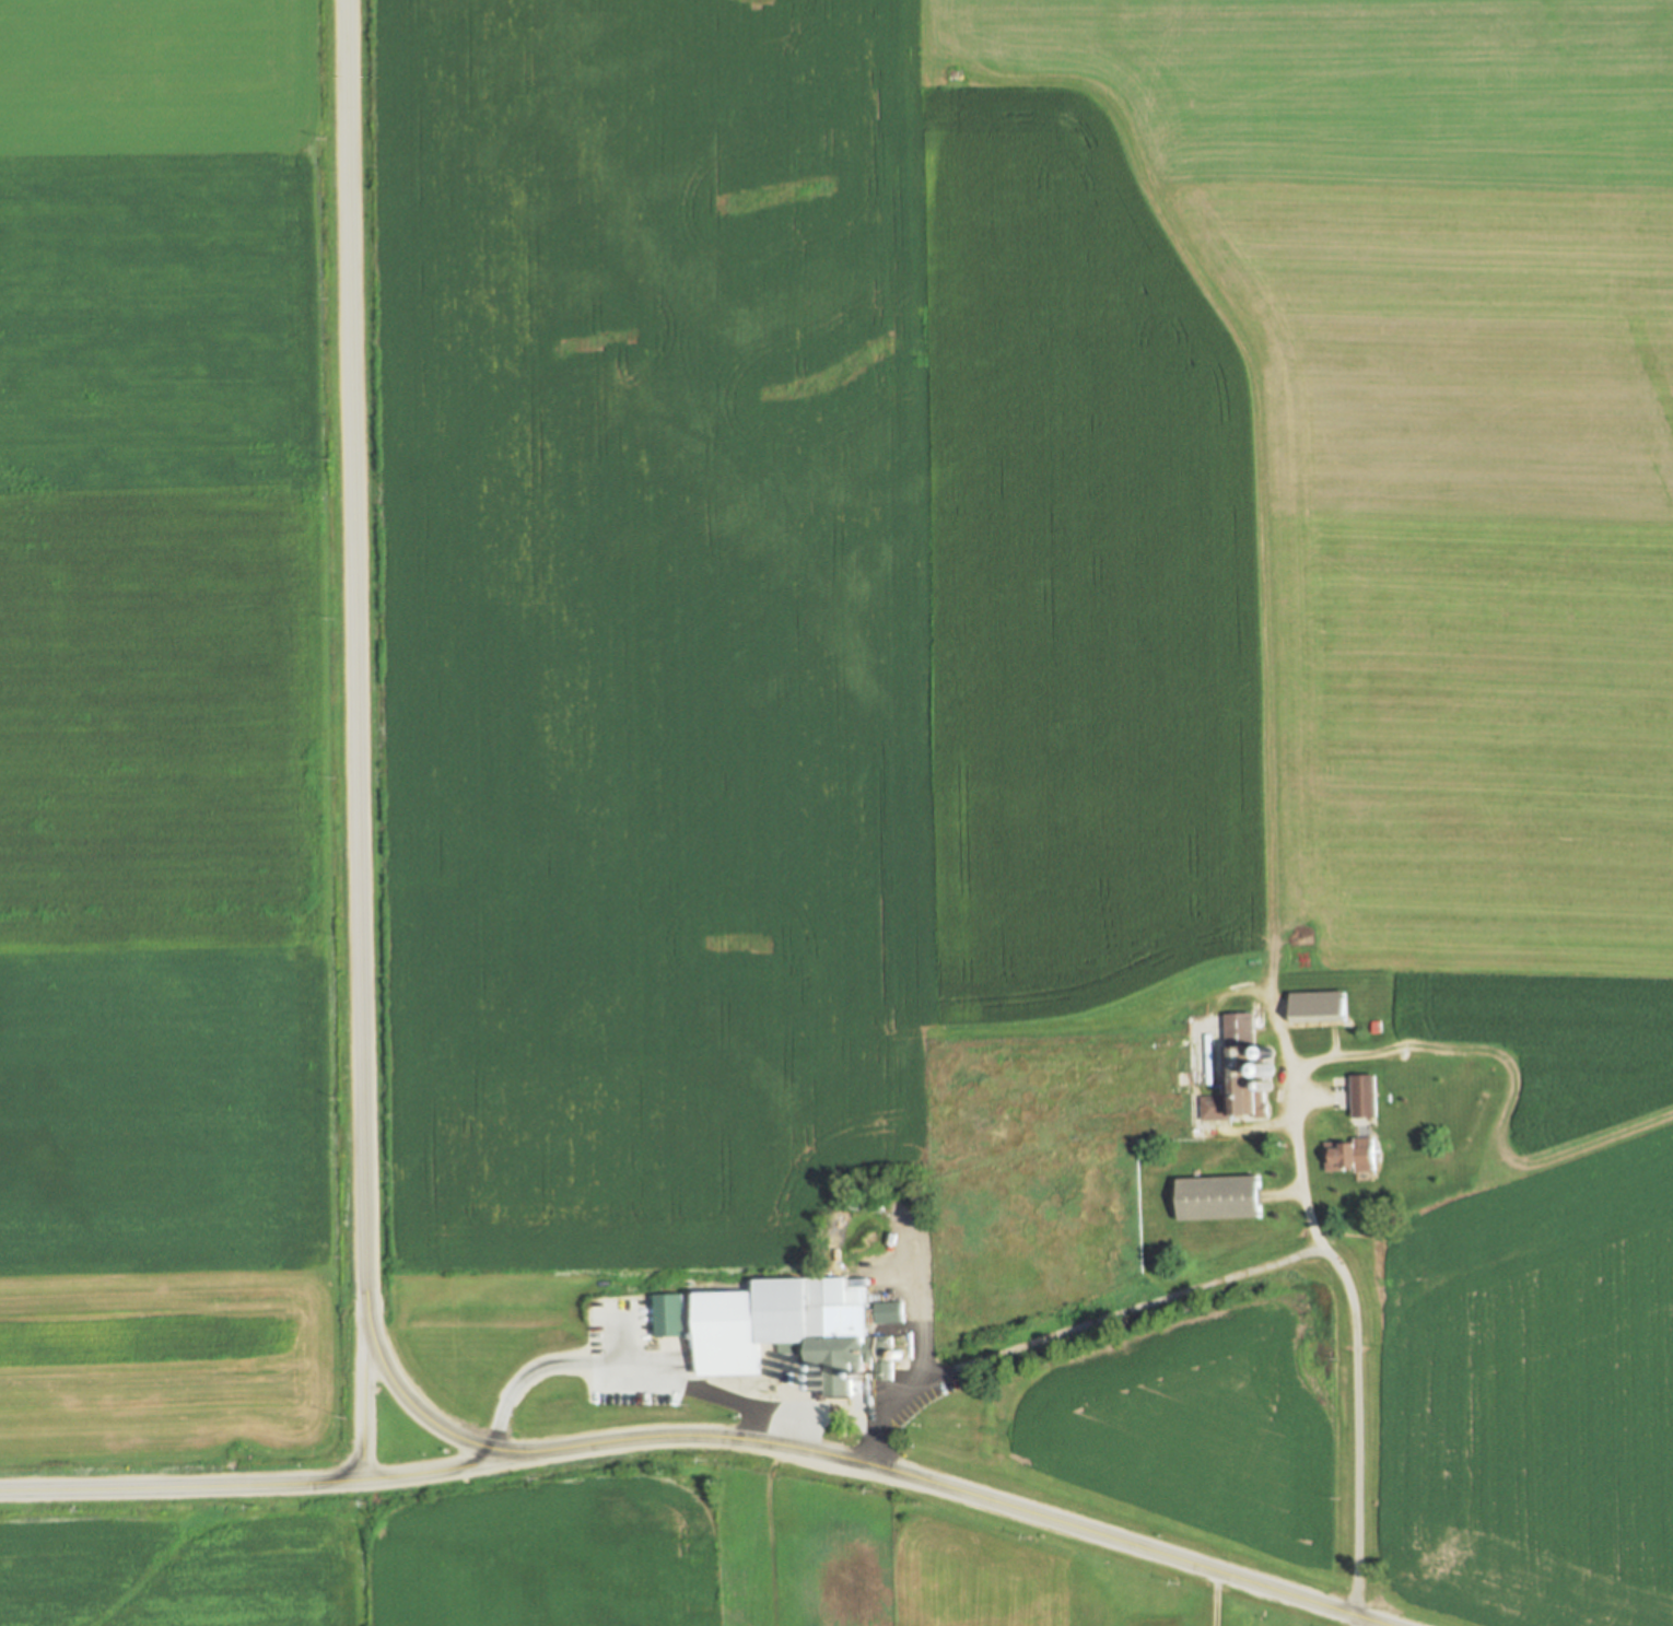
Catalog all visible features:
road: (363, 855)
building: (1322, 1007)
building: (1430, 1073)
building: (1239, 1074)
building: (1368, 1096)
building: (1354, 1155)
road: (1299, 1161)
building: (1219, 1197)
road: (1148, 1307)
building: (672, 1315)
building: (796, 1323)
road: (925, 1338)
road: (634, 1366)
road: (364, 1396)
road: (856, 1411)
road: (1354, 1435)
road: (277, 1489)
road: (1048, 1518)
road: (1217, 1598)

